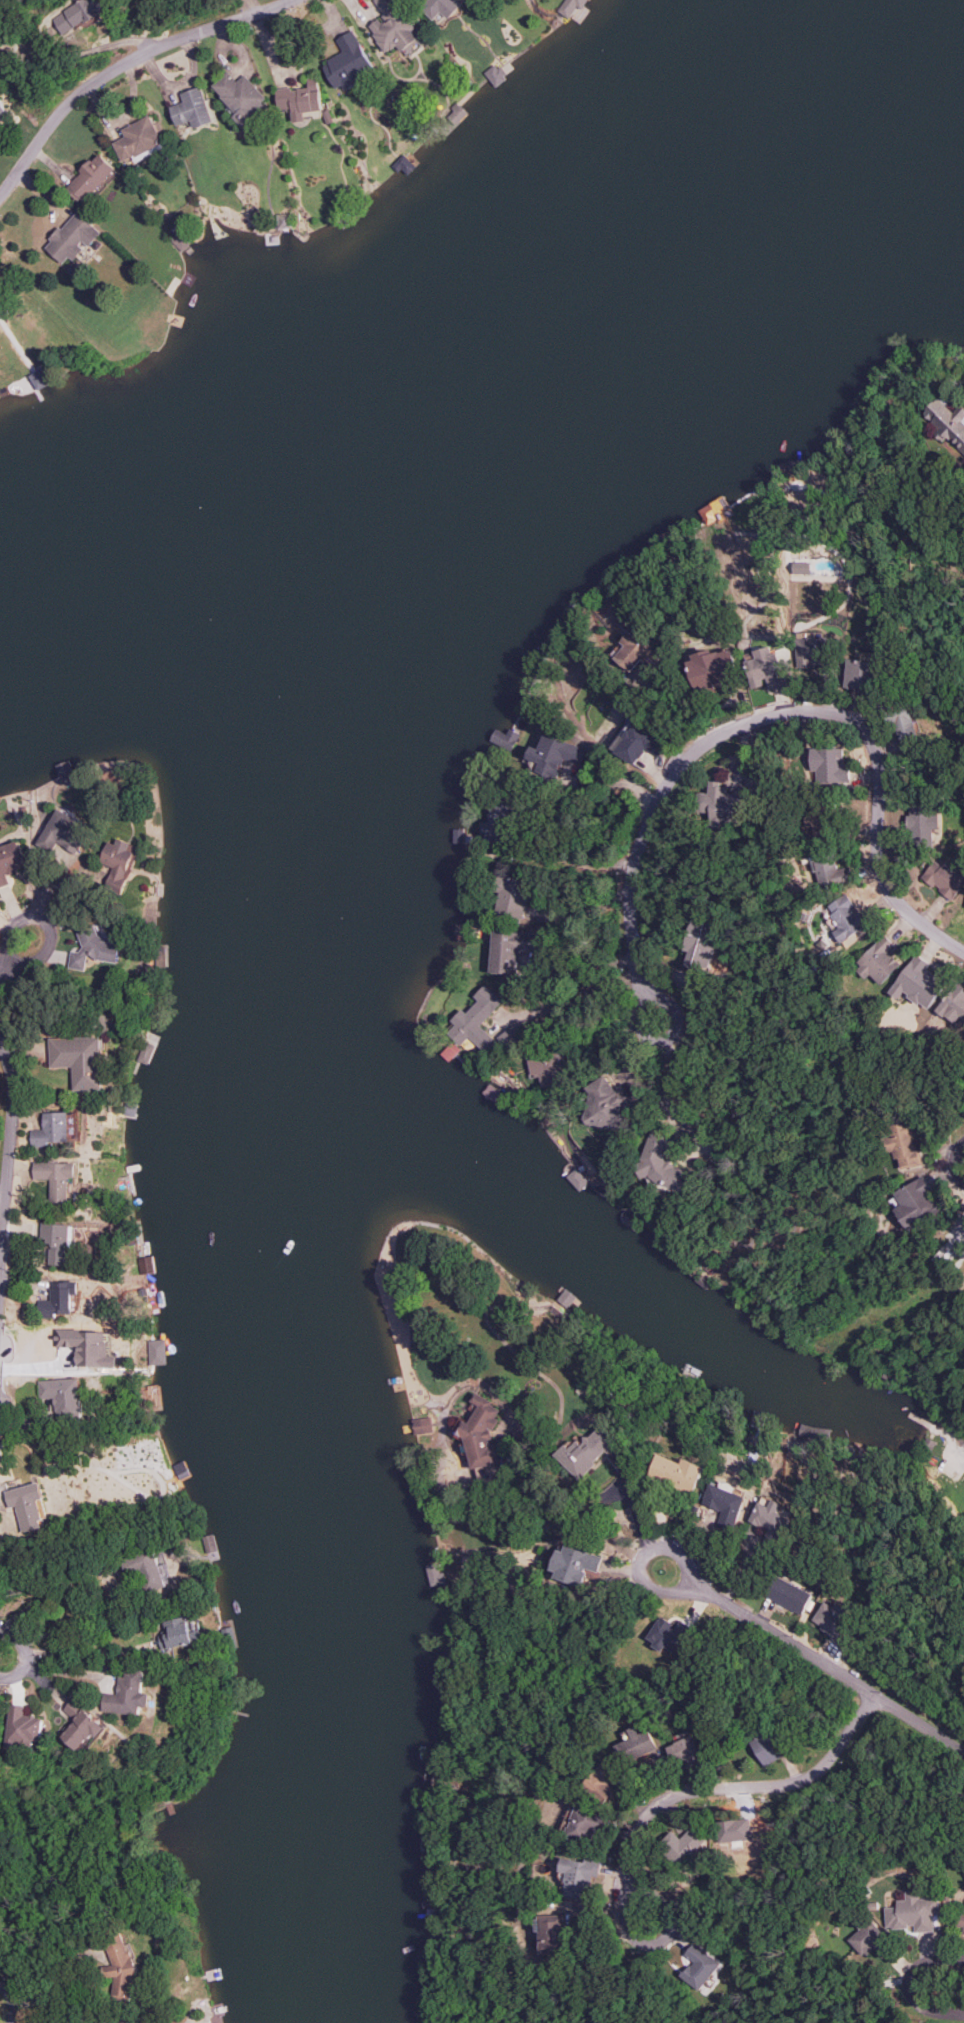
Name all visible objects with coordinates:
building: (440, 7)
building: (573, 8)
building: (78, 15)
building: (393, 25)
building: (349, 62)
road: (122, 64)
building: (495, 74)
building: (242, 97)
building: (300, 99)
building: (193, 108)
building: (3, 111)
building: (138, 138)
building: (405, 162)
building: (91, 177)
building: (73, 237)
building: (181, 240)
building: (40, 378)
building: (948, 422)
building: (705, 514)
building: (799, 567)
building: (810, 649)
building: (636, 650)
building: (713, 668)
building: (766, 669)
building: (860, 673)
road: (783, 714)
building: (904, 724)
building: (636, 743)
building: (554, 755)
building: (830, 766)
building: (721, 805)
building: (499, 821)
building: (814, 821)
building: (922, 824)
building: (64, 831)
building: (10, 860)
building: (119, 861)
building: (828, 868)
building: (944, 878)
building: (512, 896)
building: (845, 918)
building: (699, 944)
building: (513, 949)
building: (94, 950)
road: (14, 960)
building: (878, 961)
building: (918, 982)
building: (954, 1004)
building: (482, 1023)
road: (663, 1040)
building: (80, 1059)
building: (548, 1068)
building: (607, 1107)
road: (678, 1122)
building: (52, 1129)
building: (903, 1143)
building: (661, 1163)
road: (958, 1163)
road: (9, 1171)
building: (56, 1177)
road: (4, 1193)
building: (917, 1203)
building: (57, 1241)
road: (2, 1245)
building: (60, 1299)
building: (89, 1346)
building: (156, 1351)
building: (64, 1395)
pier: (924, 1421)
building: (422, 1424)
road: (955, 1424)
building: (479, 1432)
building: (934, 1446)
building: (586, 1450)
parking lot: (956, 1456)
park: (943, 1466)
building: (677, 1471)
building: (725, 1504)
building: (27, 1505)
road: (638, 1515)
building: (771, 1515)
building: (574, 1564)
building: (146, 1567)
building: (789, 1594)
building: (835, 1621)
building: (179, 1633)
building: (669, 1634)
road: (3, 1652)
road: (817, 1658)
building: (128, 1693)
building: (82, 1724)
building: (24, 1727)
building: (635, 1744)
building: (766, 1746)
building: (684, 1752)
building: (601, 1782)
road: (725, 1787)
building: (586, 1824)
building: (736, 1831)
building: (683, 1844)
building: (580, 1874)
building: (912, 1912)
building: (962, 1921)
building: (551, 1932)
building: (867, 1938)
building: (121, 1966)
building: (699, 1966)
road: (907, 1984)
road: (17, 1999)
building: (54, 2020)

